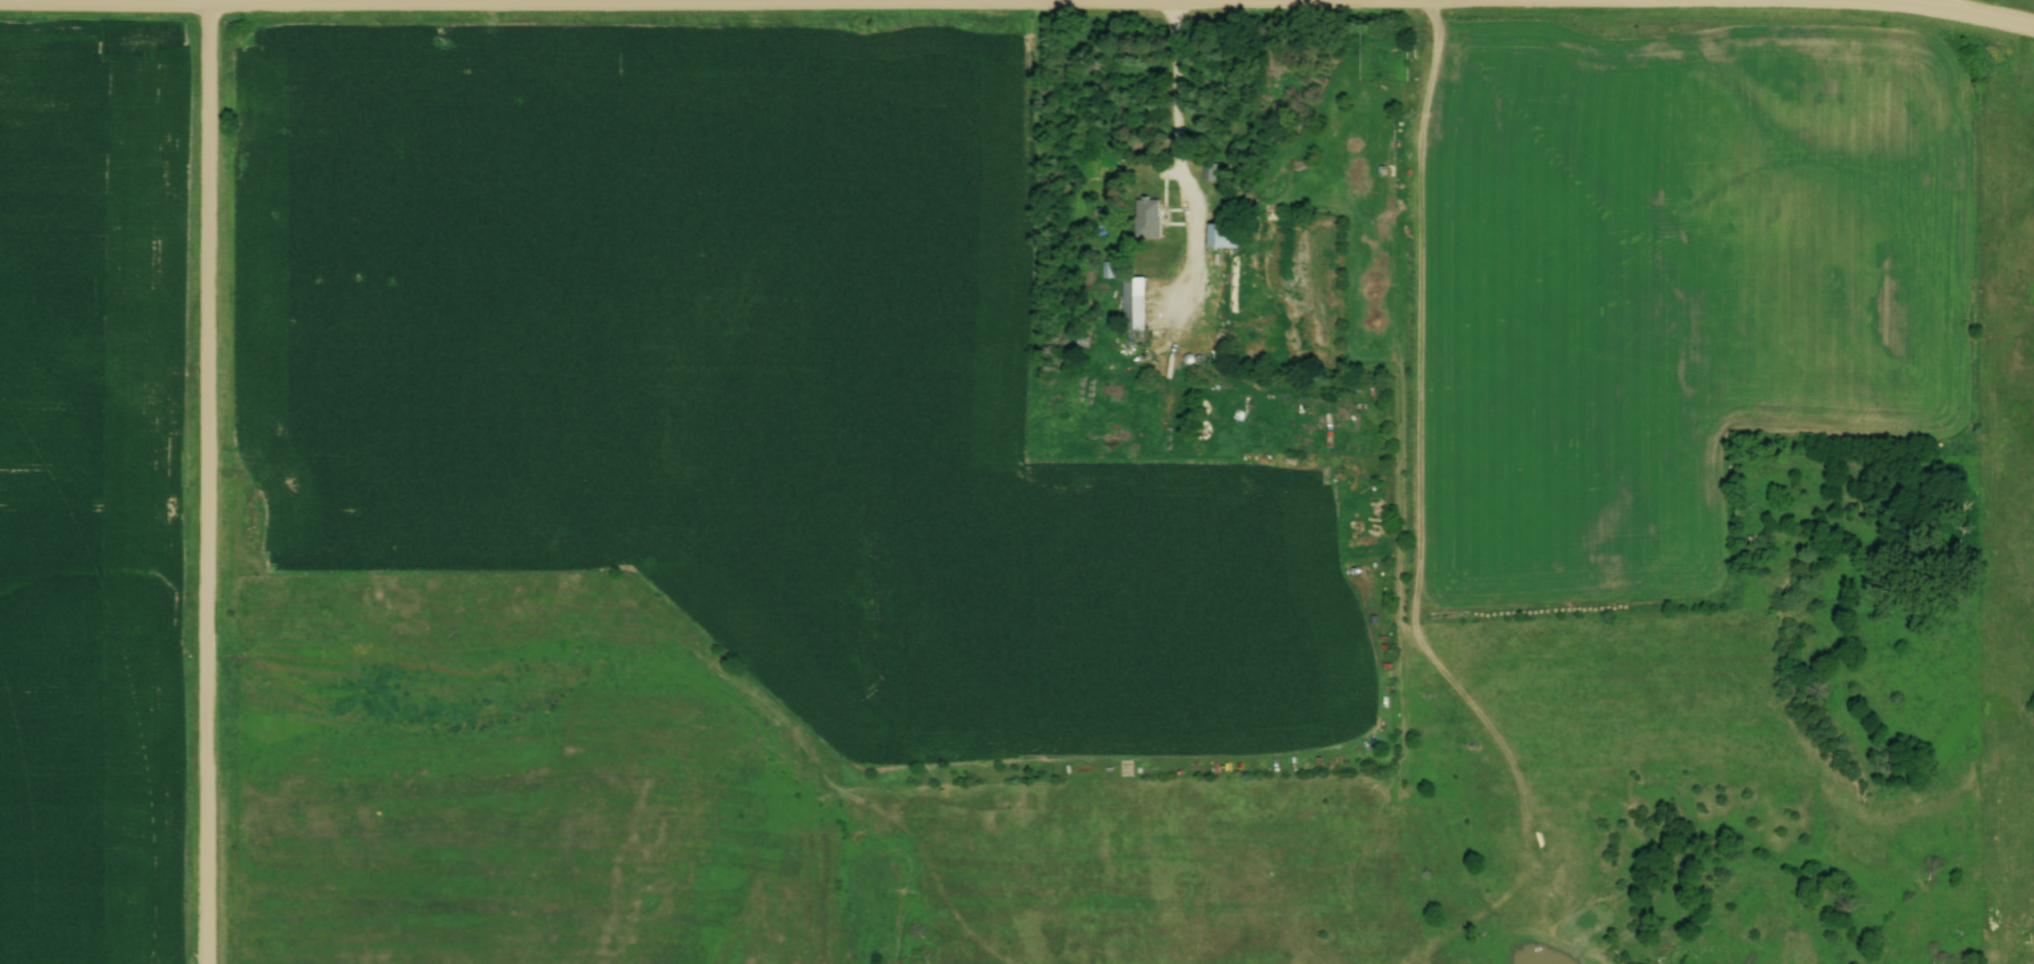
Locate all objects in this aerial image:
road: (1931, 1)
road: (1963, 9)
road: (1184, 105)
building: (1209, 171)
building: (1146, 211)
building: (1219, 236)
building: (1131, 311)
road: (211, 482)

